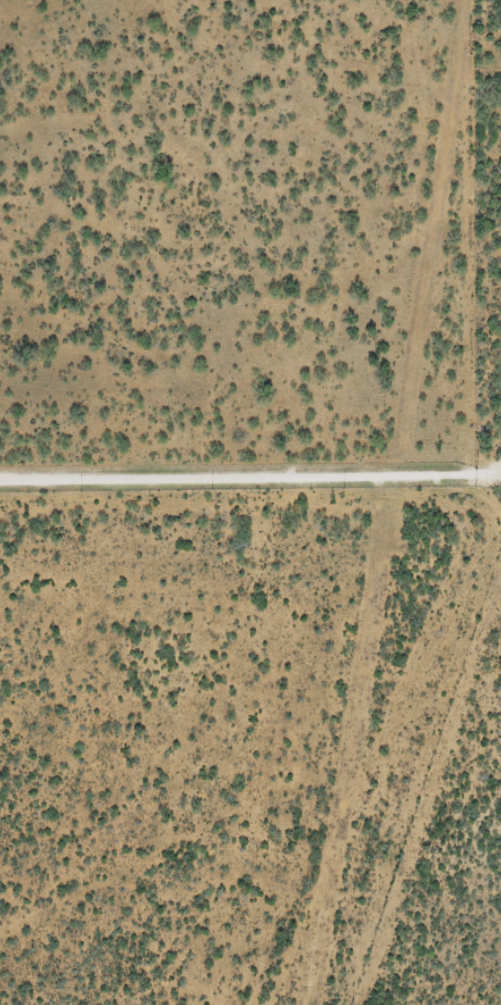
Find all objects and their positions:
road: (250, 471)
road: (119, 959)

